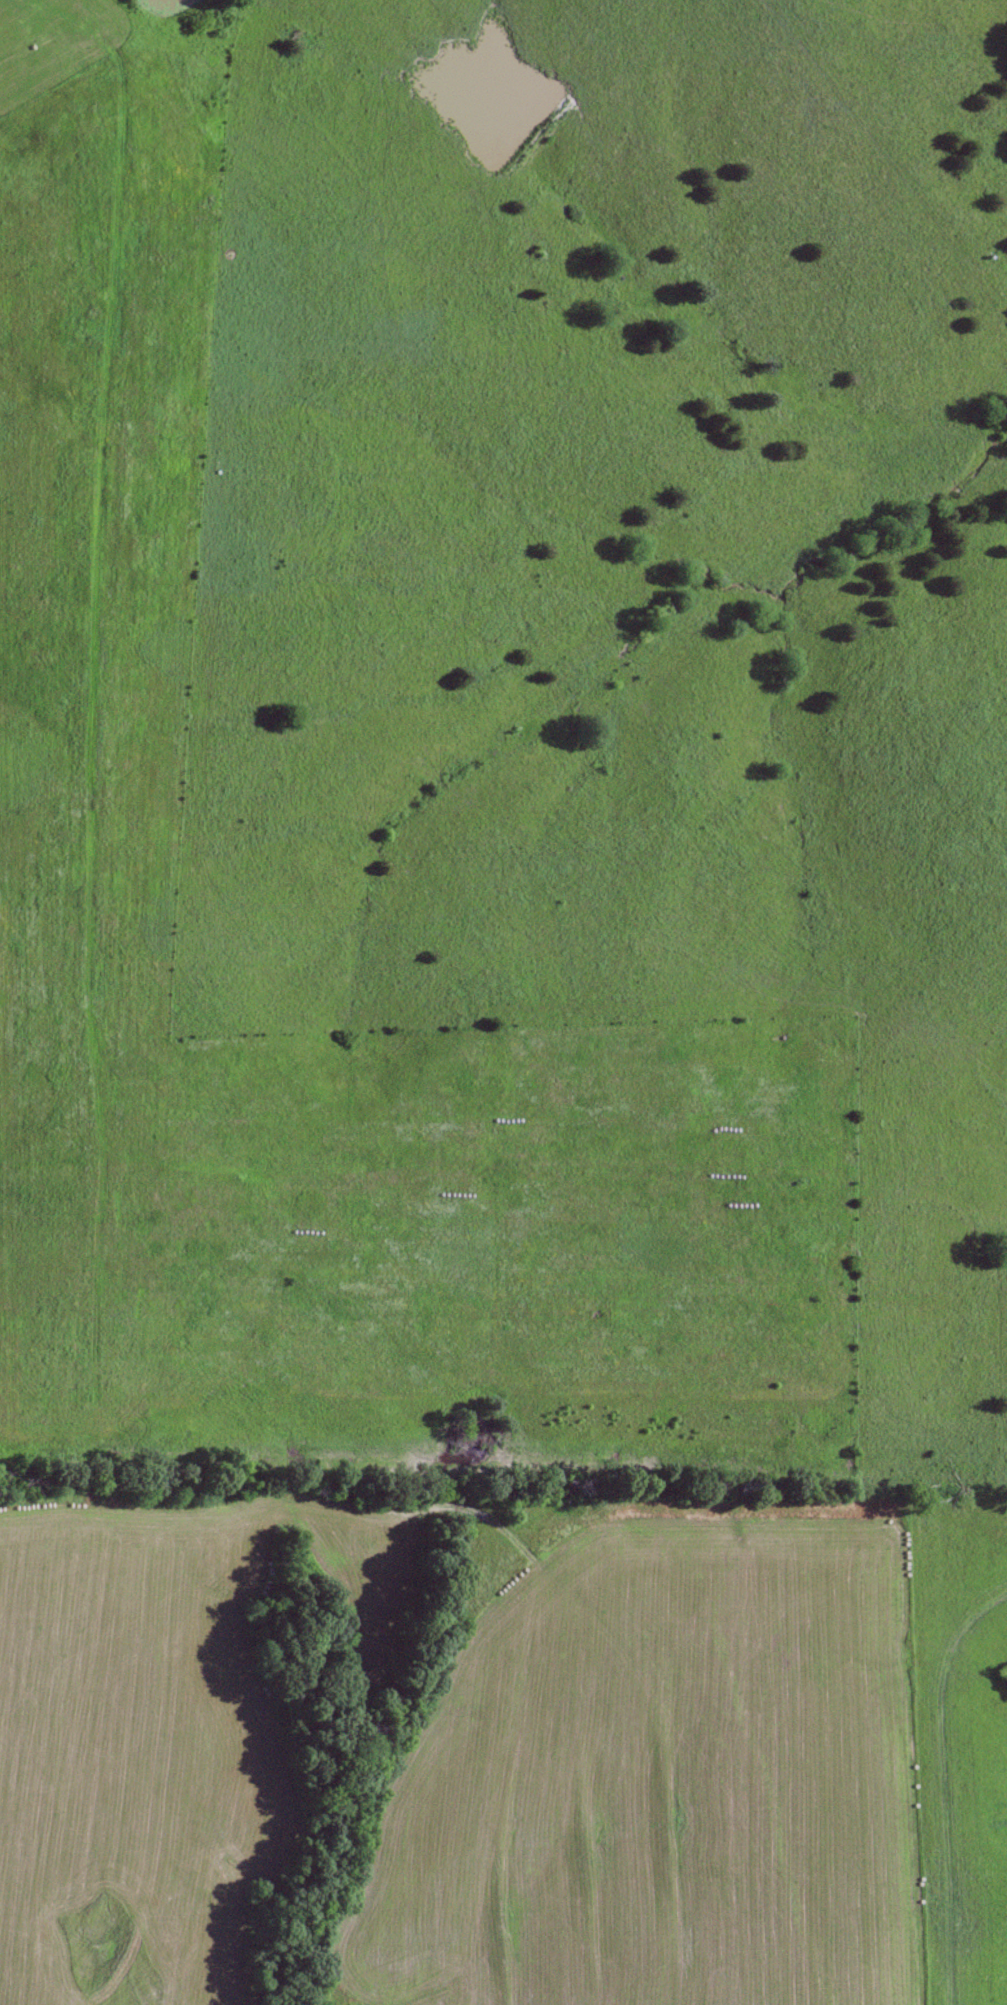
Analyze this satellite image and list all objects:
road: (107, 700)
road: (908, 1702)

